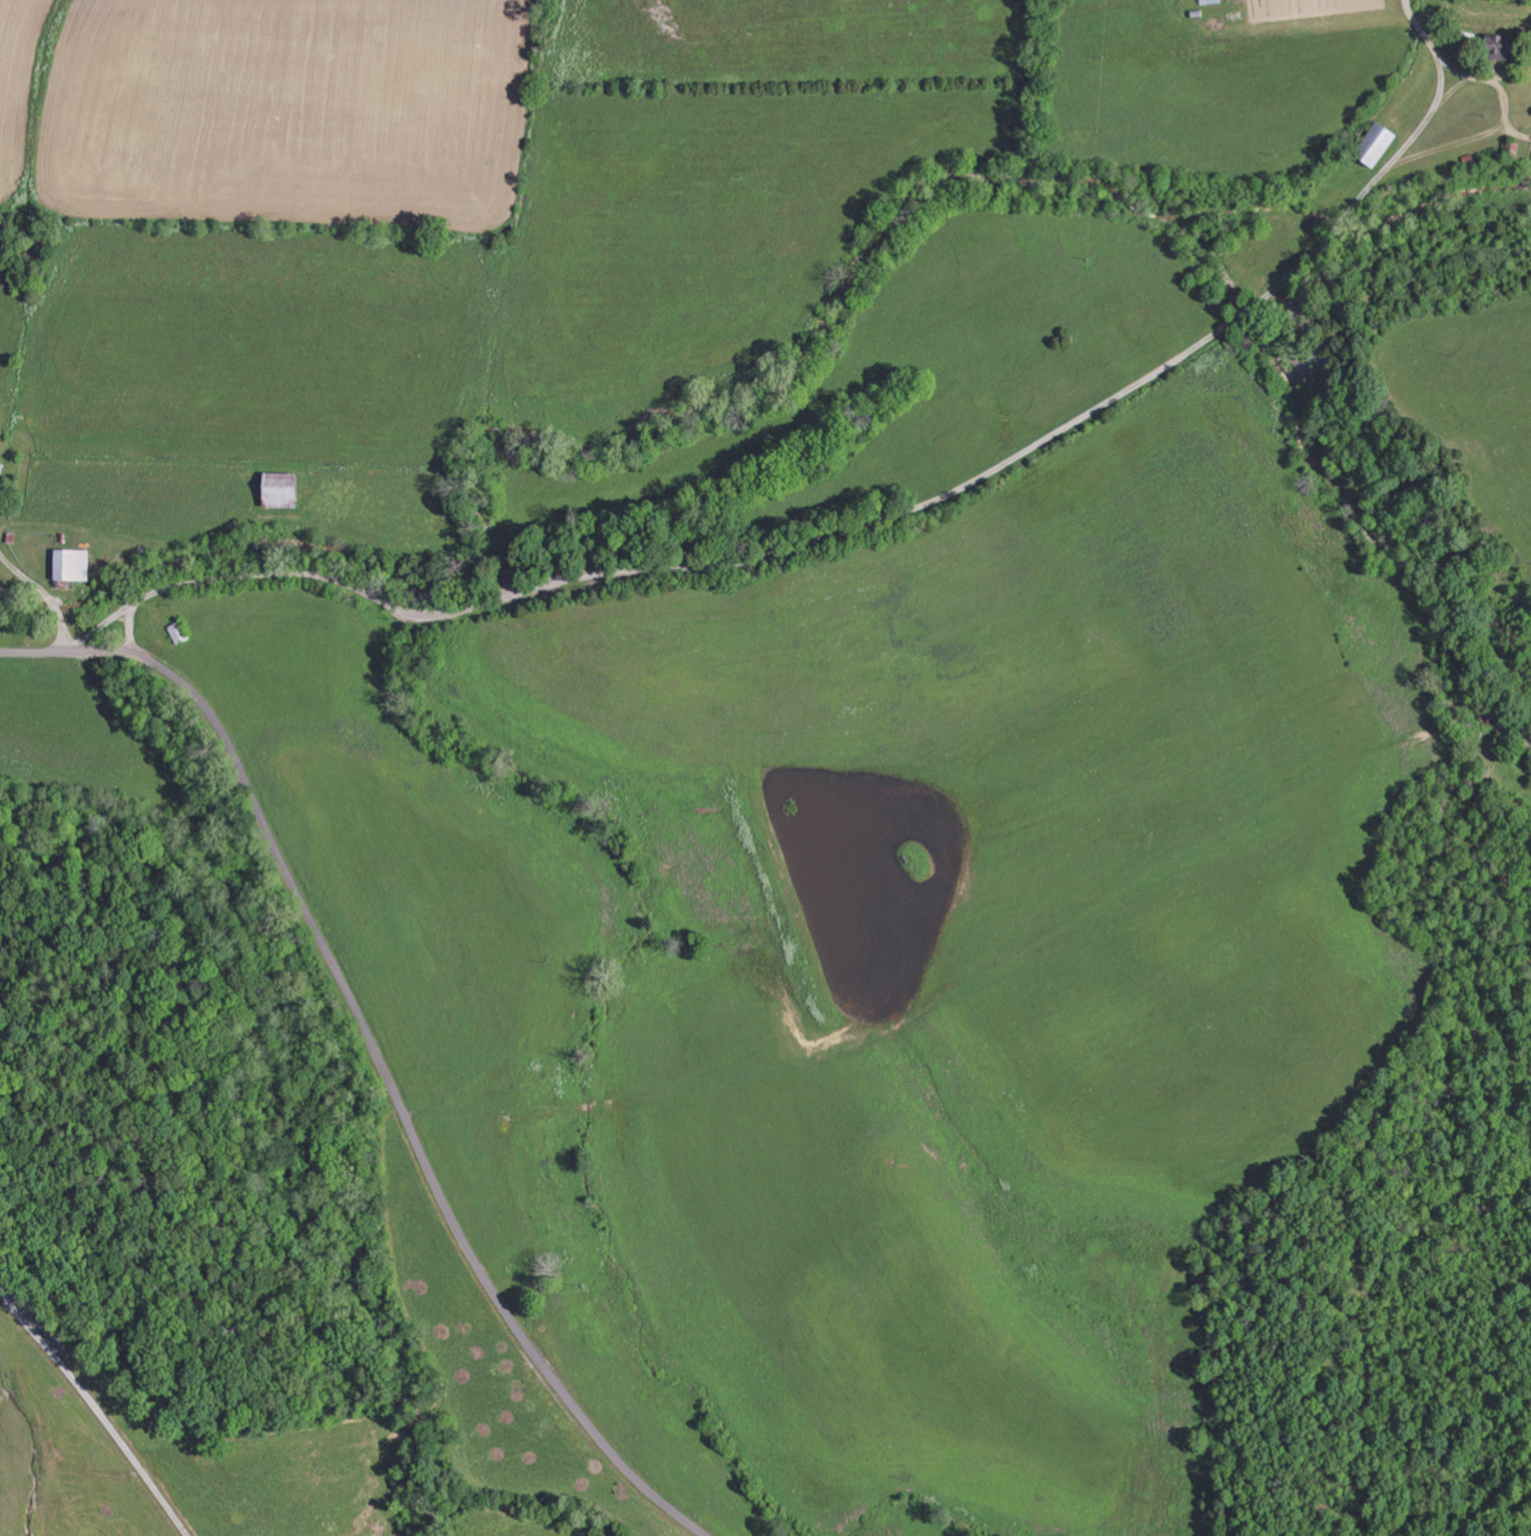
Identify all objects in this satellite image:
building: (1372, 143)
building: (276, 491)
road: (957, 524)
building: (67, 564)
road: (45, 595)
road: (371, 1045)

